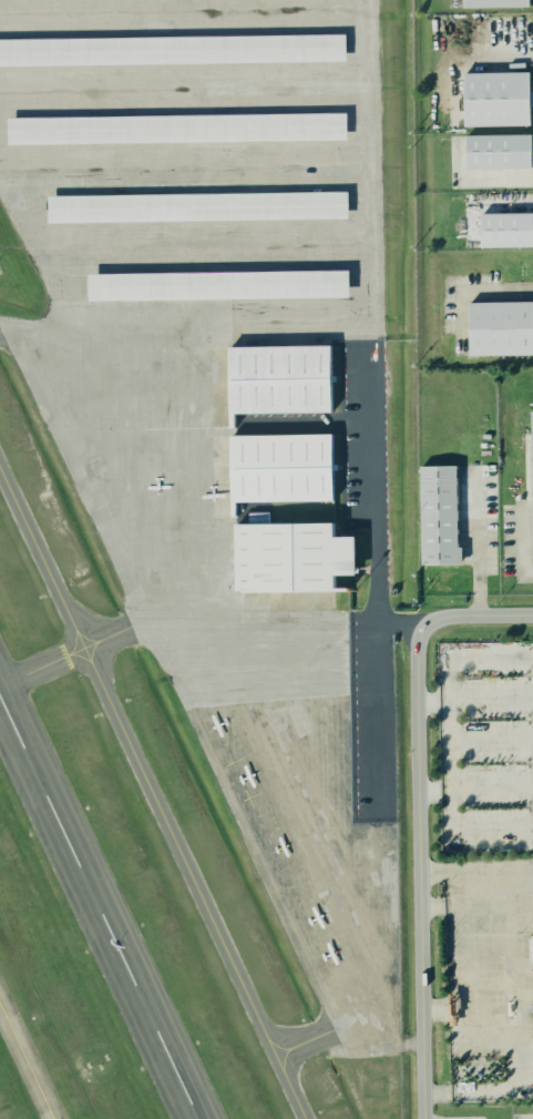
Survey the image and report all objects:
building: (493, 2)
building: (171, 48)
building: (495, 96)
building: (176, 126)
building: (496, 150)
building: (196, 205)
building: (505, 228)
building: (216, 283)
road: (474, 291)
road: (376, 312)
building: (500, 326)
building: (278, 377)
airport apron: (212, 387)
building: (532, 460)
building: (279, 466)
building: (438, 515)
road: (476, 542)
airport: (202, 553)
building: (291, 556)
road: (385, 623)
airport taxiway: (12, 675)
airport taxiway: (7, 695)
road: (475, 699)
airport taxiway: (23, 753)
road: (475, 787)
airport taxiway: (152, 795)
road: (419, 815)
road: (475, 869)
road: (485, 905)
airport runway: (99, 909)
flagpole: (443, 935)
flagpole: (443, 942)
road: (515, 947)
flagpole: (443, 948)
road: (470, 1008)
airport taxiway: (296, 1042)
airport taxiway: (287, 1056)
airport taxiway: (25, 1062)
road: (512, 1090)

